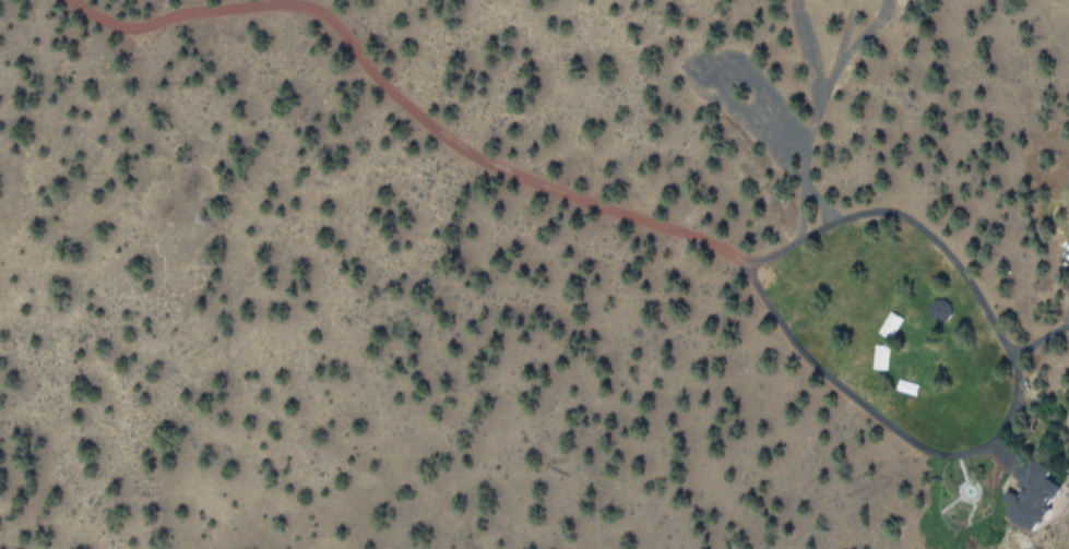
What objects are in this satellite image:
building: (1031, 497)

